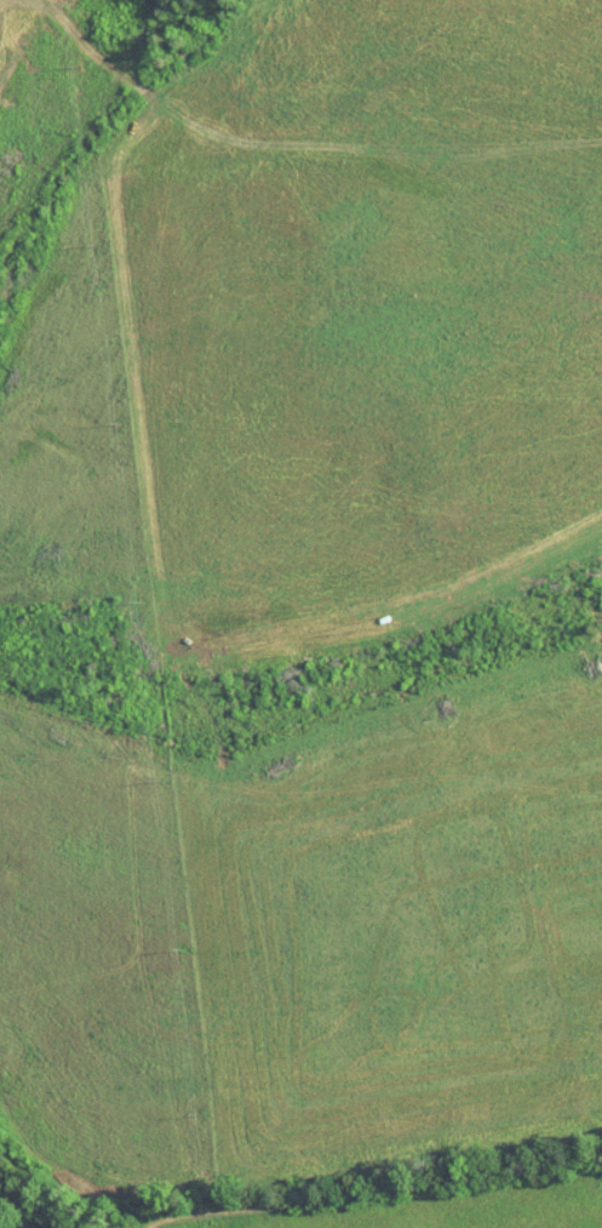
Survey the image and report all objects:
road: (373, 1183)

